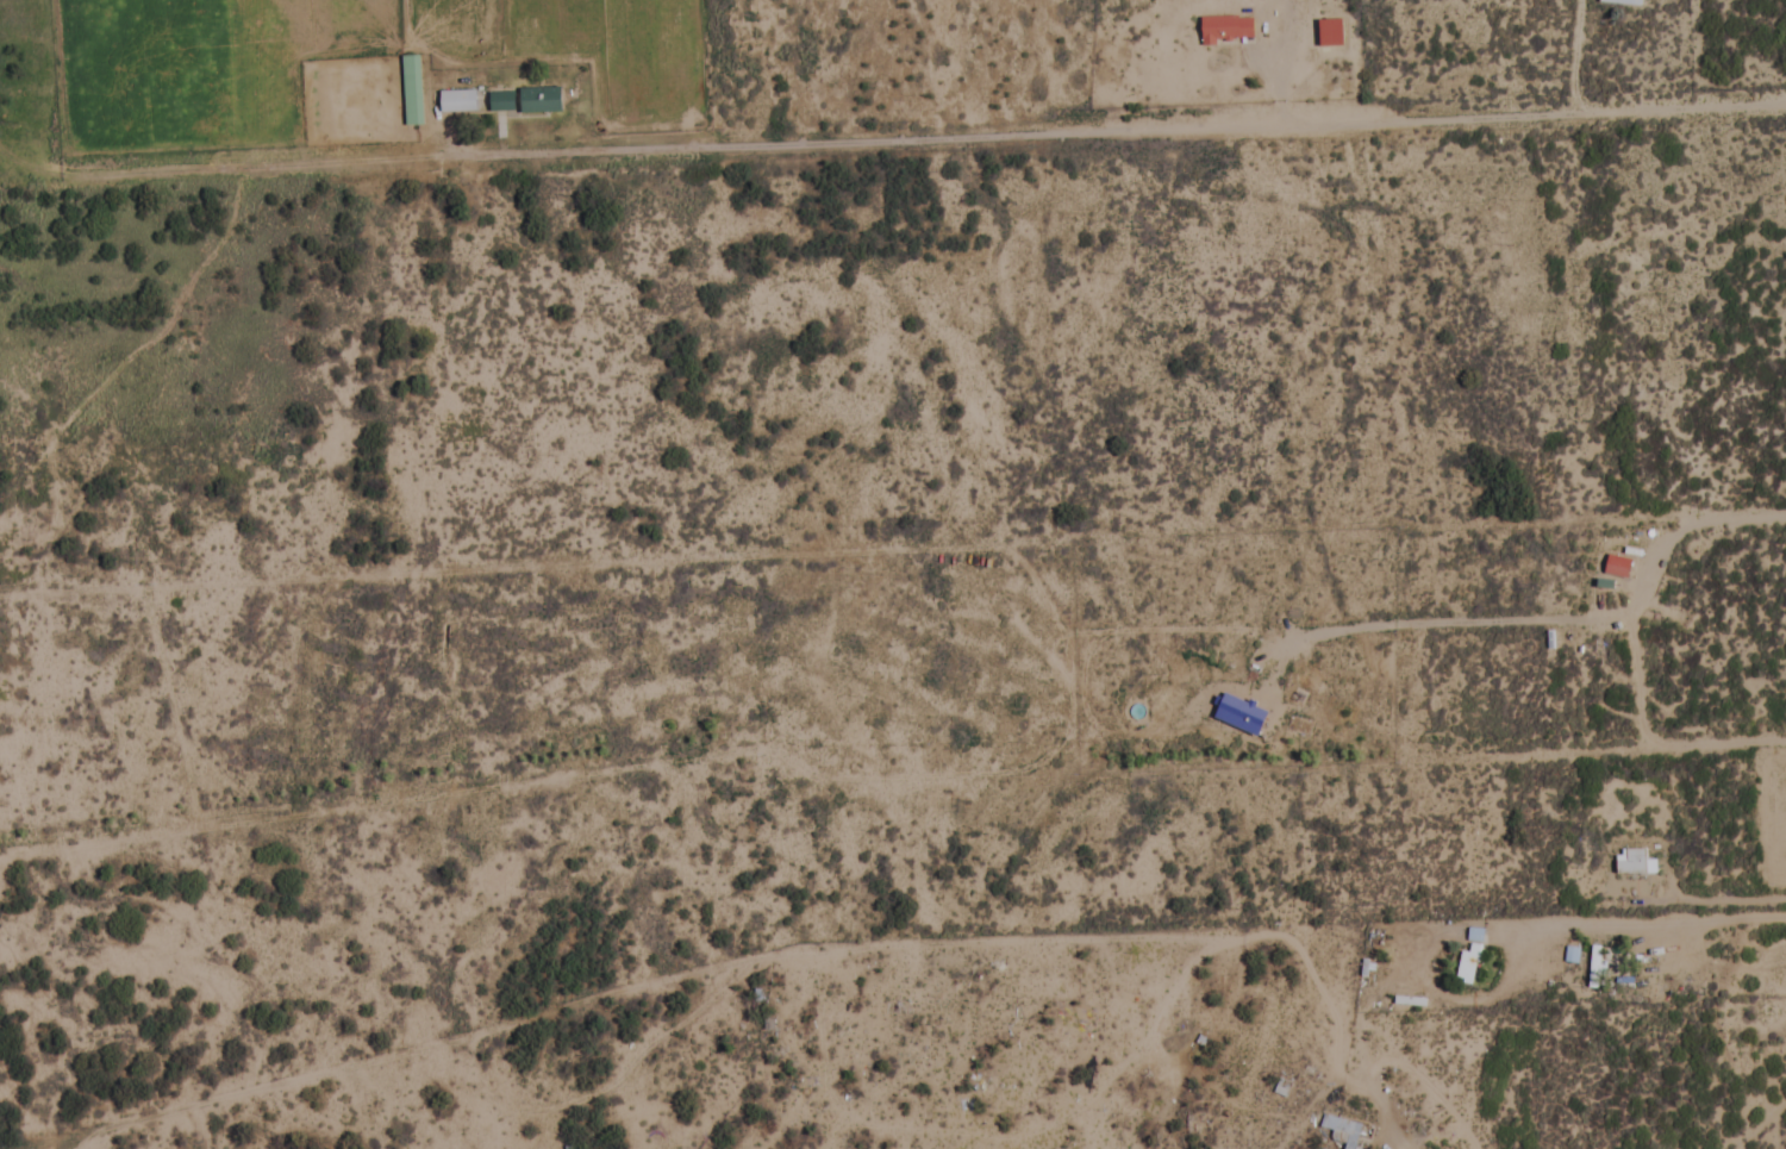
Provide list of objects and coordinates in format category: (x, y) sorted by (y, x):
building: (1620, 2)
building: (1226, 31)
building: (412, 90)
building: (525, 101)
building: (457, 102)
building: (1617, 567)
road: (893, 662)
building: (1634, 862)
building: (1469, 957)
building: (1595, 968)
building: (1347, 1134)

